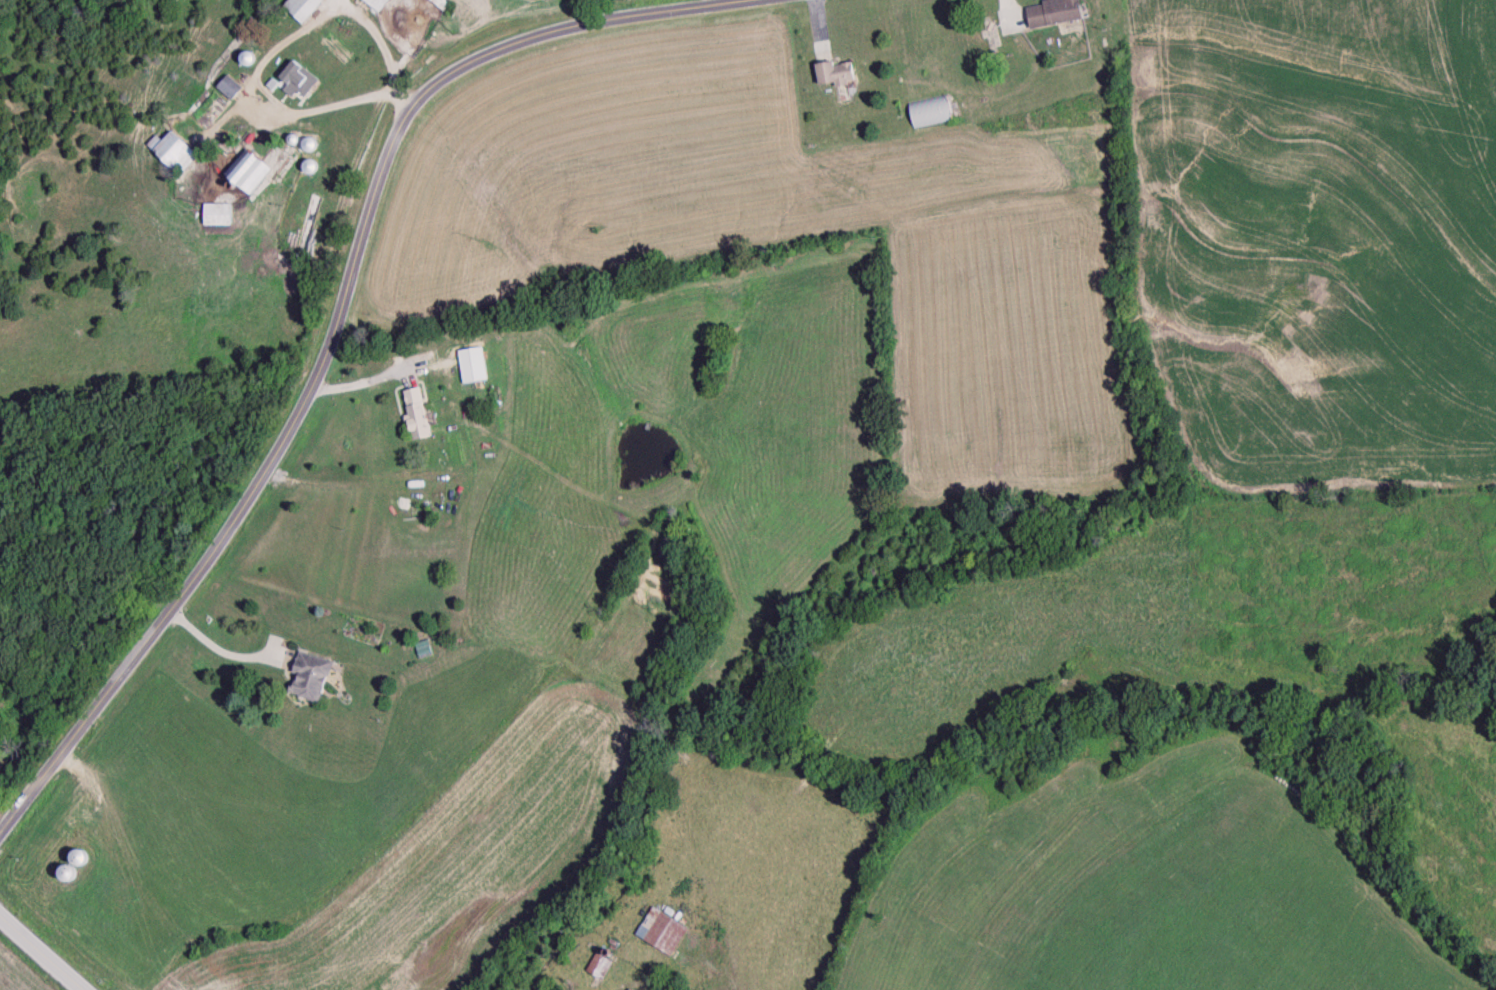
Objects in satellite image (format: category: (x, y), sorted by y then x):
building: (376, 4)
building: (302, 9)
building: (1056, 14)
building: (837, 75)
building: (299, 82)
building: (229, 90)
building: (931, 113)
building: (174, 155)
building: (249, 172)
building: (217, 215)
road: (343, 316)
building: (473, 367)
building: (418, 415)
building: (6, 633)
building: (423, 650)
building: (311, 678)
building: (81, 860)
building: (661, 933)
road: (35, 955)
building: (598, 966)

